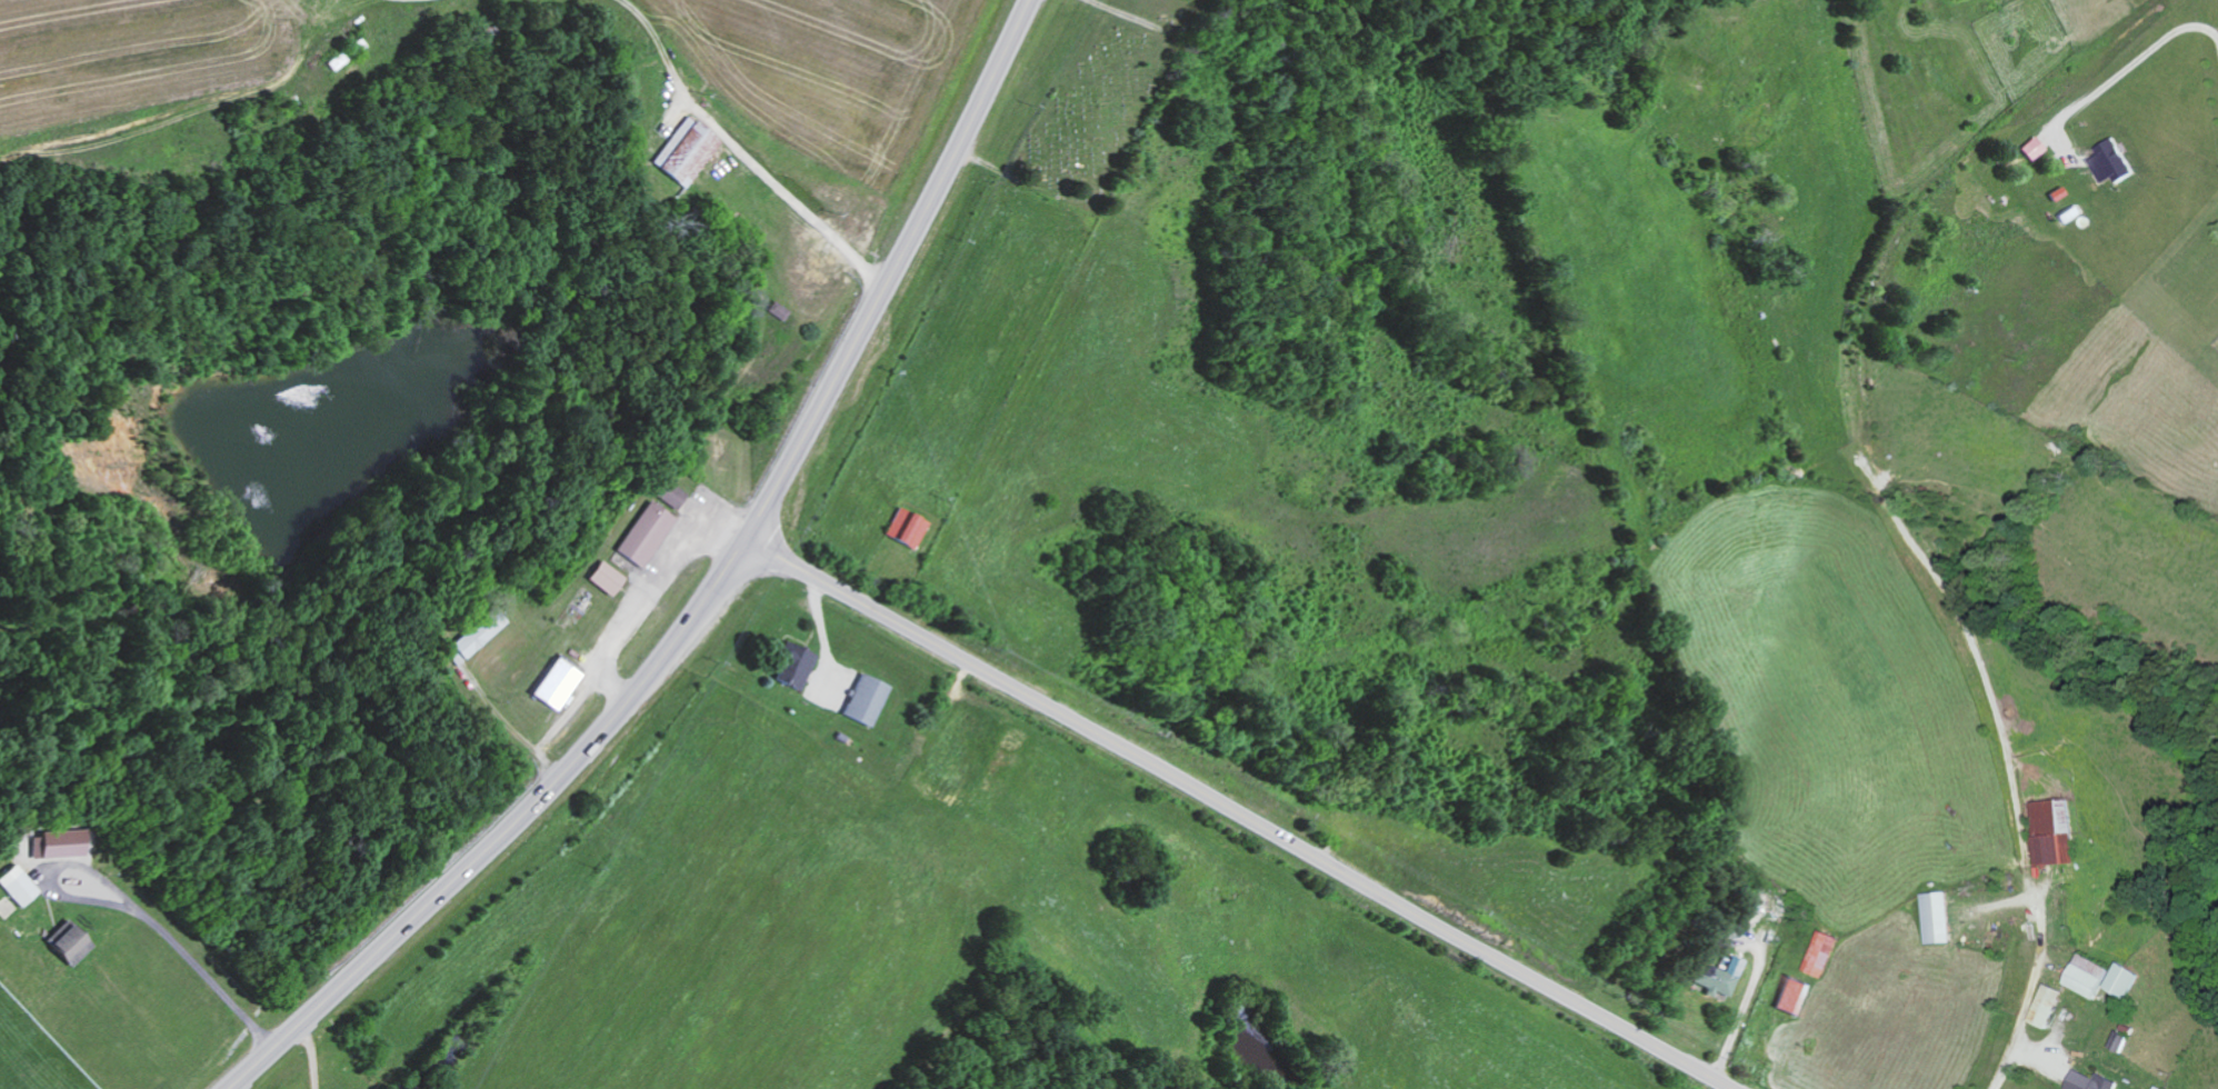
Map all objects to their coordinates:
road: (459, 36)
park: (1085, 119)
building: (2035, 149)
building: (686, 152)
building: (2109, 162)
road: (896, 272)
building: (778, 311)
building: (666, 494)
building: (905, 529)
building: (642, 534)
building: (603, 579)
building: (478, 633)
building: (793, 668)
building: (553, 686)
building: (865, 701)
road: (1238, 815)
road: (508, 831)
building: (2055, 832)
building: (52, 846)
building: (16, 887)
road: (2014, 897)
building: (1936, 918)
building: (68, 947)
building: (1824, 953)
building: (1734, 965)
building: (2088, 976)
building: (1715, 980)
building: (2124, 980)
building: (1792, 996)
building: (2045, 1006)
building: (2091, 1081)

